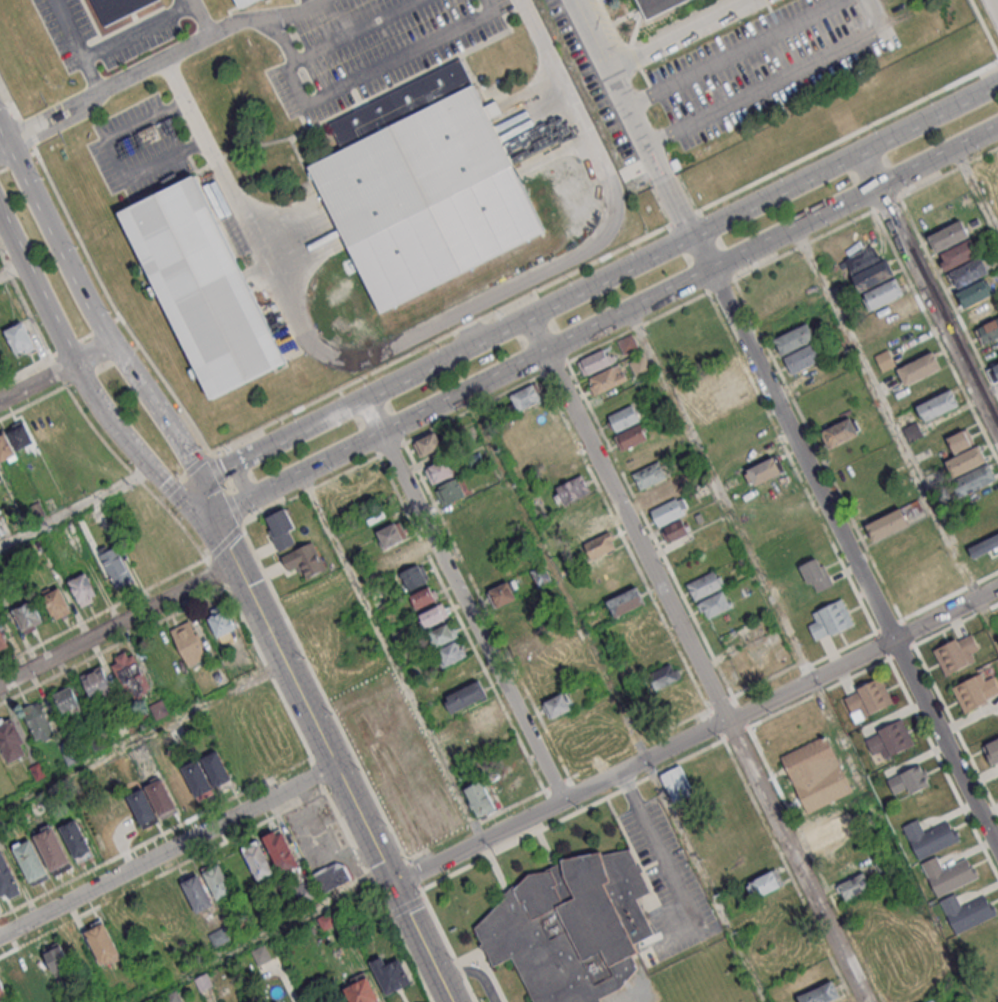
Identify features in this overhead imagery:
building: (600, 0)
building: (235, 1)
road: (997, 1)
building: (247, 4)
building: (660, 7)
building: (117, 8)
road: (201, 16)
road: (139, 30)
road: (355, 31)
road: (680, 33)
parking lot: (367, 45)
road: (78, 46)
road: (736, 53)
road: (159, 60)
parking lot: (751, 62)
road: (360, 79)
road: (779, 80)
road: (636, 119)
parking lot: (142, 145)
road: (4, 149)
road: (977, 186)
building: (423, 190)
building: (931, 199)
road: (54, 236)
building: (949, 236)
building: (957, 254)
road: (12, 272)
building: (968, 273)
building: (872, 274)
road: (594, 288)
building: (975, 292)
building: (882, 293)
building: (205, 294)
road: (929, 296)
building: (984, 311)
building: (892, 312)
road: (599, 320)
road: (433, 323)
building: (988, 331)
building: (19, 338)
building: (794, 339)
building: (627, 344)
building: (803, 357)
building: (884, 360)
building: (595, 361)
building: (639, 364)
building: (919, 367)
building: (996, 368)
road: (55, 371)
road: (78, 376)
building: (813, 376)
building: (721, 377)
building: (607, 378)
building: (526, 395)
building: (727, 395)
building: (938, 405)
road: (163, 418)
building: (624, 418)
road: (895, 428)
building: (840, 432)
building: (912, 432)
building: (19, 435)
building: (631, 436)
building: (960, 440)
building: (428, 445)
building: (6, 447)
building: (557, 449)
building: (965, 461)
building: (0, 466)
building: (765, 469)
building: (440, 470)
building: (649, 475)
building: (975, 479)
road: (238, 481)
building: (572, 489)
building: (452, 490)
building: (658, 493)
traffic signals: (199, 501)
building: (877, 506)
building: (36, 510)
road: (75, 510)
building: (667, 511)
building: (987, 519)
building: (887, 524)
building: (591, 526)
building: (2, 528)
building: (281, 528)
building: (678, 530)
road: (218, 531)
building: (391, 535)
building: (600, 544)
building: (985, 546)
road: (845, 547)
building: (401, 556)
building: (305, 559)
building: (114, 564)
building: (816, 574)
building: (541, 575)
building: (413, 576)
building: (705, 584)
building: (83, 589)
building: (502, 593)
building: (424, 597)
road: (466, 601)
building: (626, 601)
building: (57, 603)
building: (714, 604)
park: (996, 609)
building: (511, 612)
building: (28, 614)
building: (434, 615)
building: (314, 618)
building: (831, 618)
building: (222, 622)
road: (117, 624)
building: (442, 636)
building: (3, 639)
building: (190, 643)
building: (533, 647)
building: (451, 652)
road: (799, 653)
building: (955, 653)
road: (390, 655)
building: (655, 656)
road: (699, 660)
building: (662, 675)
building: (131, 676)
building: (97, 683)
building: (976, 691)
road: (614, 695)
building: (465, 696)
building: (870, 696)
building: (67, 699)
building: (558, 705)
building: (157, 709)
building: (482, 716)
building: (38, 721)
road: (694, 735)
building: (890, 737)
road: (142, 738)
building: (10, 740)
building: (992, 751)
building: (807, 756)
building: (216, 768)
building: (197, 777)
building: (911, 778)
road: (341, 783)
building: (677, 785)
building: (160, 796)
building: (480, 799)
building: (143, 805)
building: (727, 809)
building: (97, 816)
building: (122, 817)
building: (830, 828)
building: (932, 837)
building: (76, 840)
building: (53, 849)
road: (166, 851)
building: (281, 851)
road: (661, 858)
building: (258, 860)
building: (31, 861)
building: (845, 867)
building: (885, 867)
building: (949, 875)
building: (7, 877)
building: (330, 878)
building: (217, 881)
building: (765, 883)
building: (854, 886)
traffic signals: (393, 887)
building: (188, 894)
building: (967, 912)
building: (325, 922)
building: (574, 929)
road: (259, 937)
building: (103, 944)
building: (262, 955)
building: (47, 963)
building: (390, 974)
building: (16, 977)
building: (204, 982)
building: (3, 990)
building: (361, 991)
building: (820, 993)
building: (171, 997)
building: (839, 1000)
building: (930, 1000)

